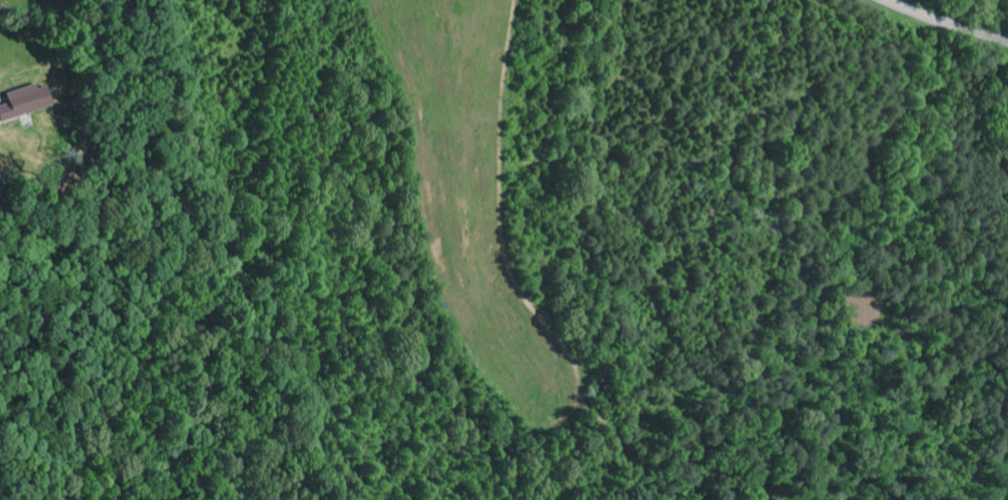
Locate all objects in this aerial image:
road: (947, 22)
building: (26, 103)

